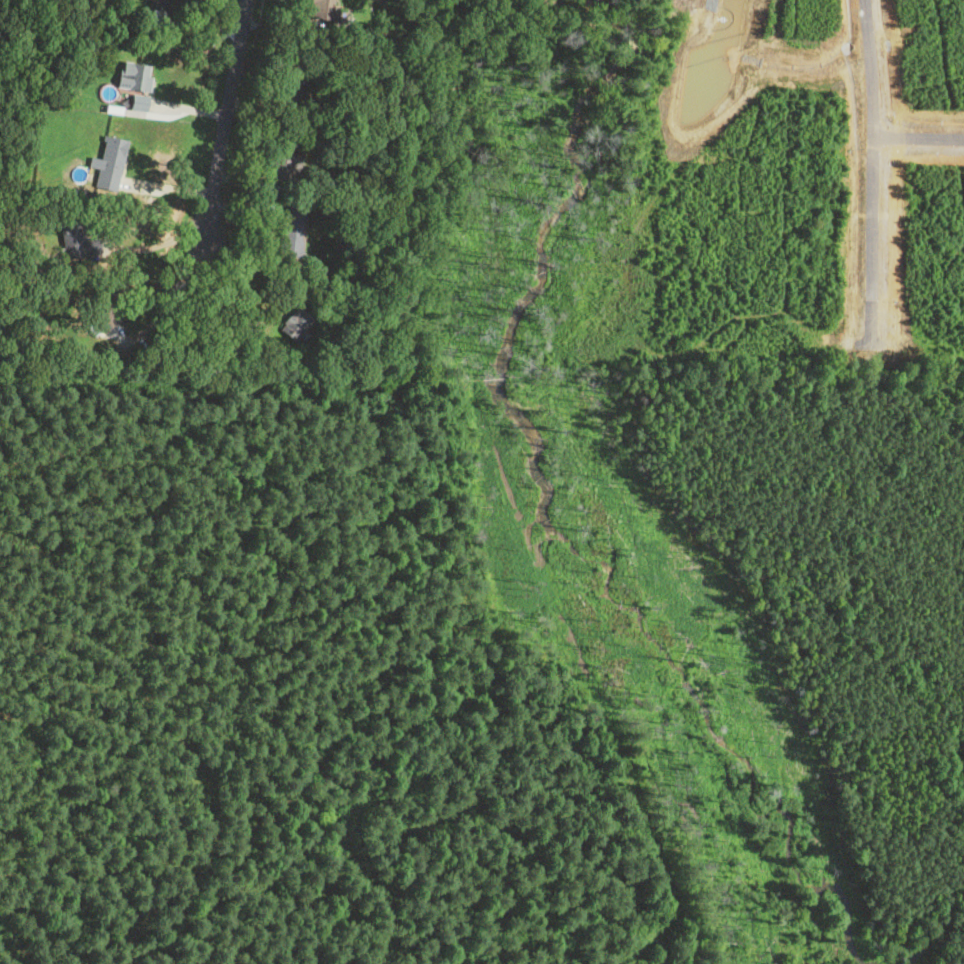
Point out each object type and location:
building: (157, 4)
building: (321, 9)
building: (133, 82)
building: (290, 82)
road: (228, 121)
road: (916, 133)
road: (869, 160)
building: (108, 163)
building: (280, 166)
building: (289, 231)
building: (75, 239)
road: (164, 242)
road: (173, 295)
building: (292, 323)

